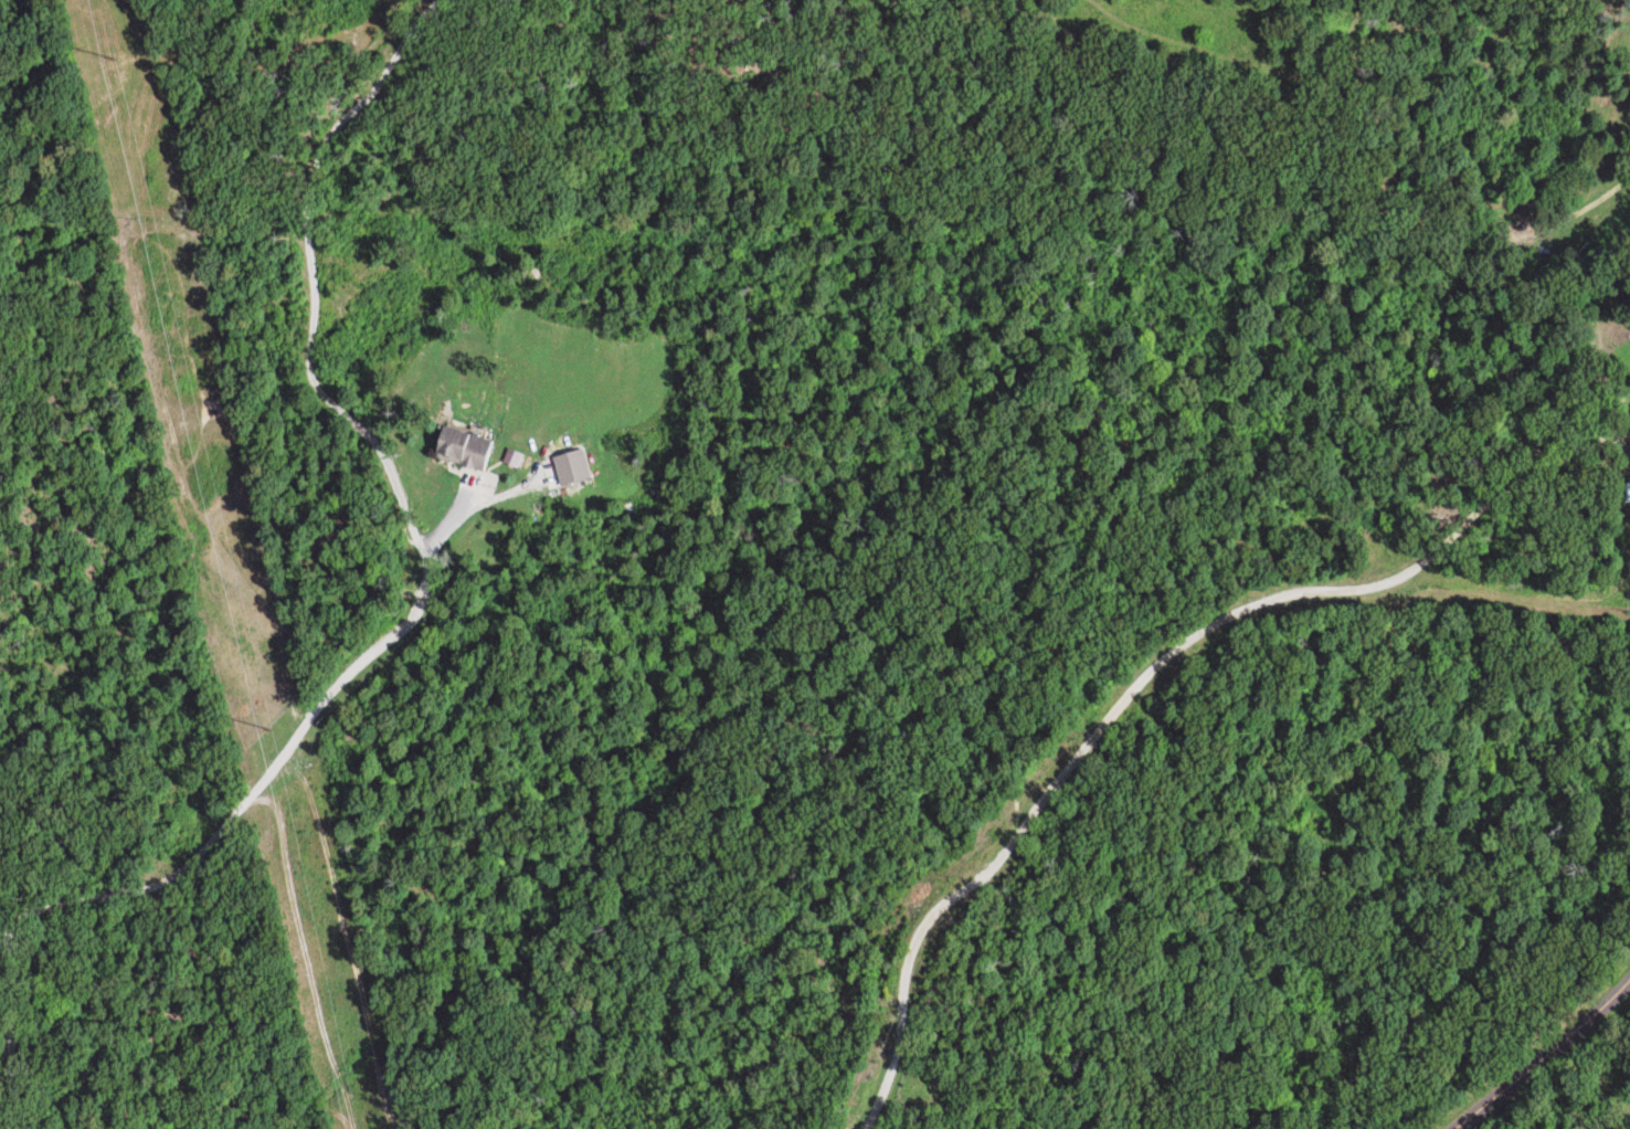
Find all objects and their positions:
building: (467, 449)
road: (1523, 479)
road: (400, 627)
road: (1072, 767)
road: (1541, 1052)

